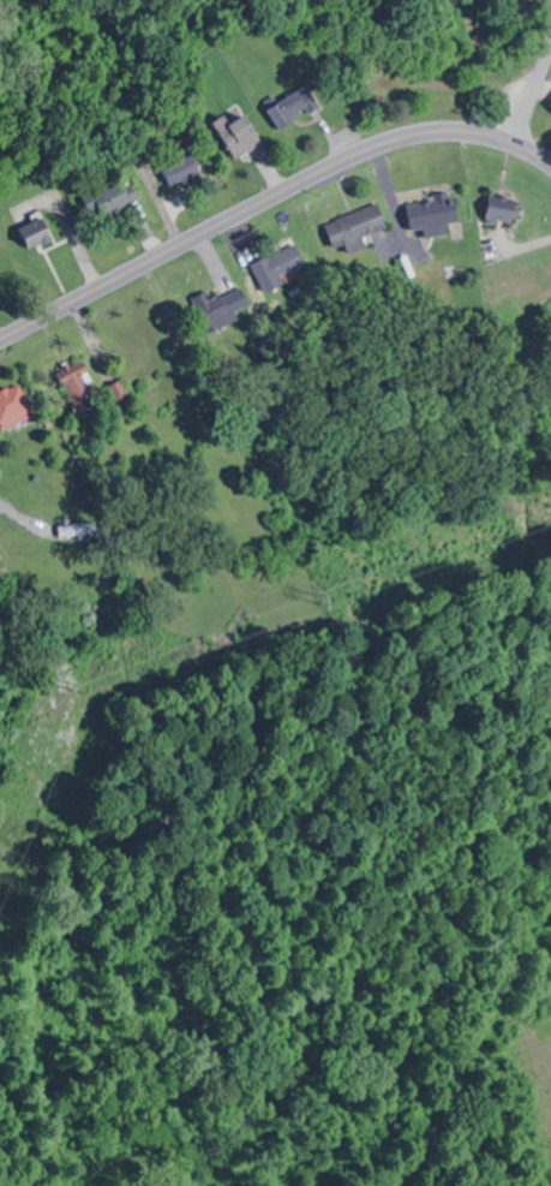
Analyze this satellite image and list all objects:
road: (532, 88)
building: (236, 136)
building: (180, 168)
road: (268, 196)
building: (108, 198)
building: (503, 207)
building: (432, 210)
building: (355, 226)
building: (36, 234)
building: (241, 290)
building: (74, 377)
building: (13, 406)

